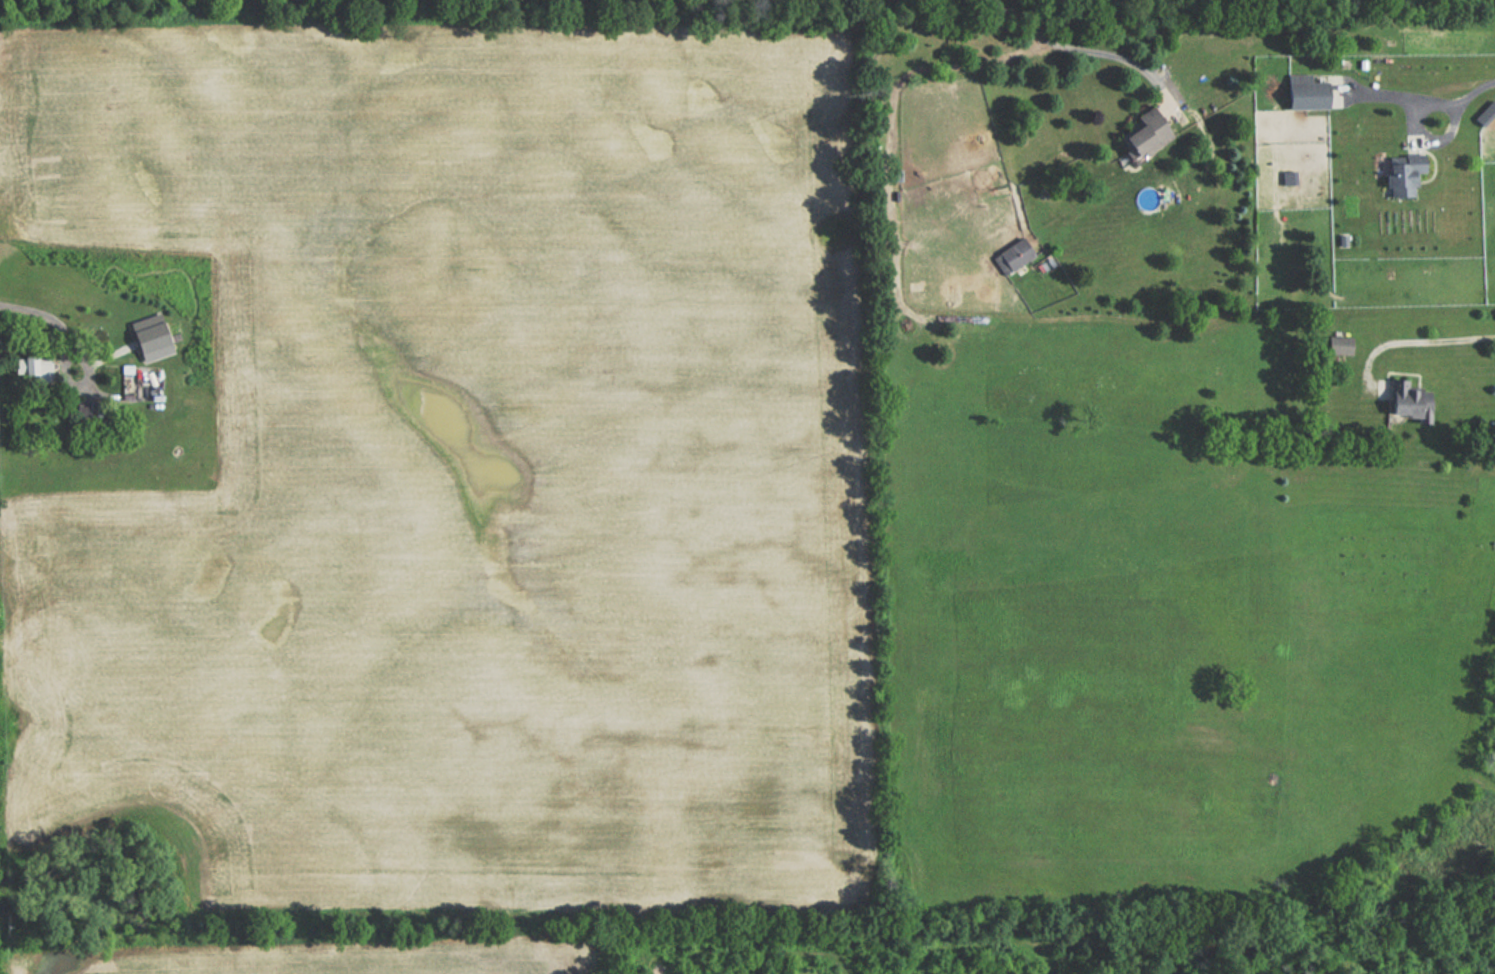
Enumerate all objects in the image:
road: (1104, 55)
road: (1475, 90)
building: (1303, 93)
road: (1413, 136)
building: (1141, 139)
building: (1400, 175)
building: (1011, 257)
road: (1413, 342)
building: (1337, 346)
road: (30, 352)
building: (34, 367)
road: (81, 385)
building: (1400, 395)
building: (79, 409)
crop: (452, 470)
crop: (336, 965)

